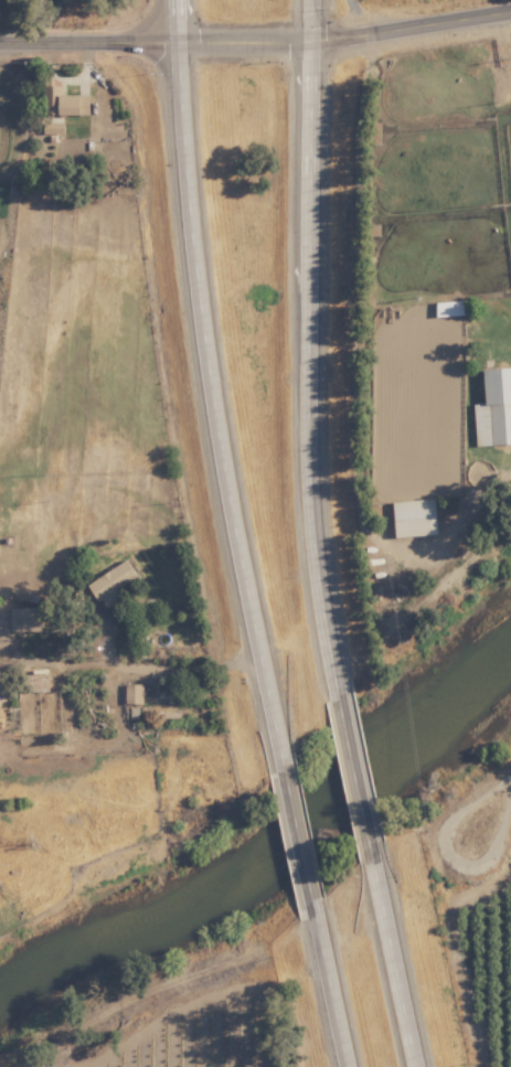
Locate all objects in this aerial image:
road: (342, 35)
road: (86, 36)
building: (64, 103)
building: (54, 128)
crop: (419, 153)
road: (306, 350)
road: (209, 384)
building: (494, 409)
building: (416, 516)
building: (111, 583)
building: (26, 618)
road: (136, 663)
building: (134, 693)
road: (355, 772)
road: (296, 824)
river: (264, 840)
road: (449, 858)
road: (400, 956)
road: (333, 975)
road: (178, 989)

